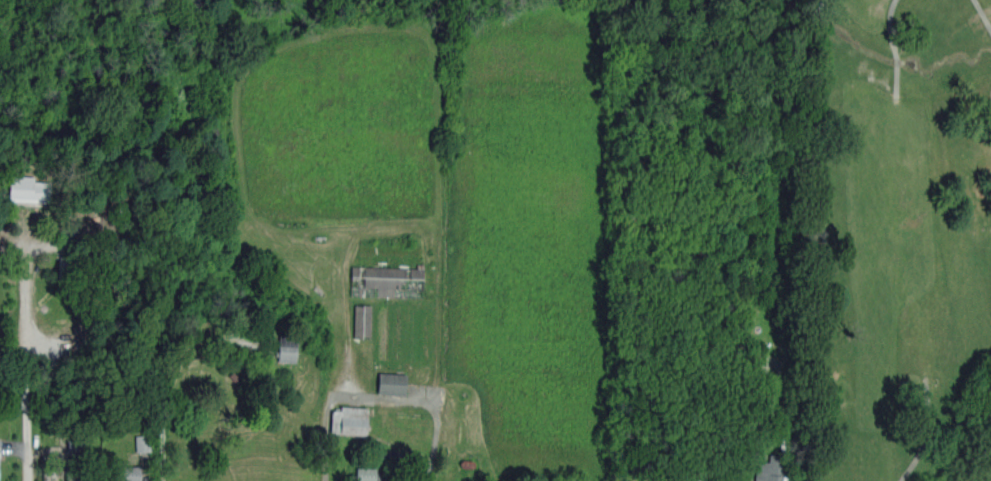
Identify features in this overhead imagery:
road: (983, 13)
road: (890, 27)
road: (897, 61)
road: (897, 80)
building: (28, 192)
park: (902, 241)
building: (384, 281)
road: (26, 318)
building: (362, 321)
building: (286, 348)
building: (391, 383)
road: (380, 397)
building: (349, 421)
road: (923, 437)
building: (141, 444)
road: (27, 445)
road: (400, 453)
building: (770, 470)
building: (75, 473)
building: (127, 474)
building: (365, 474)

